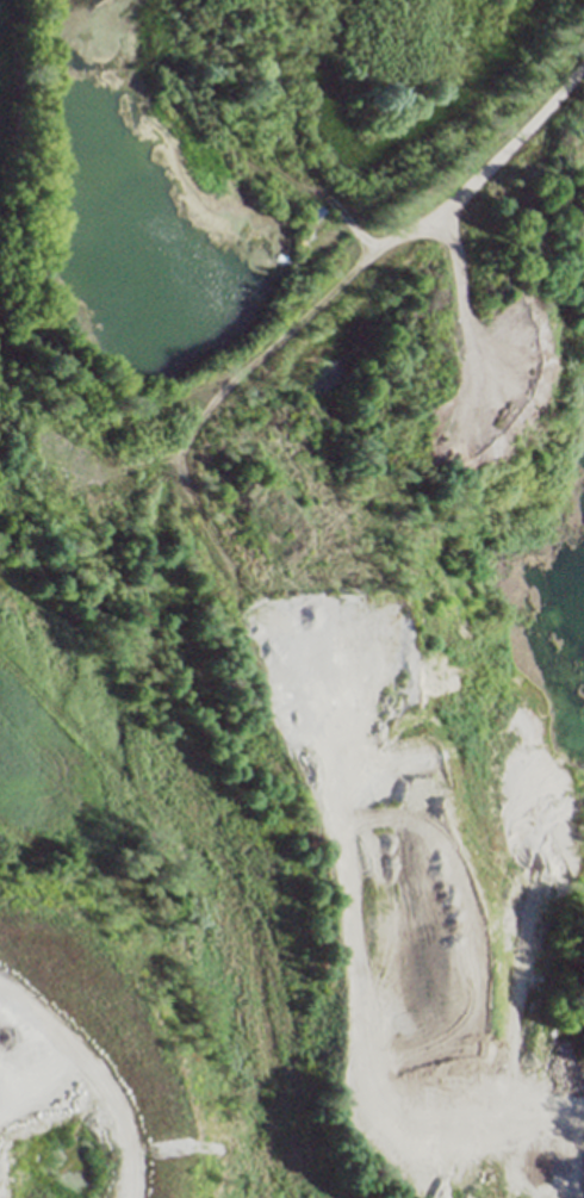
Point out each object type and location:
quarry: (292, 304)

